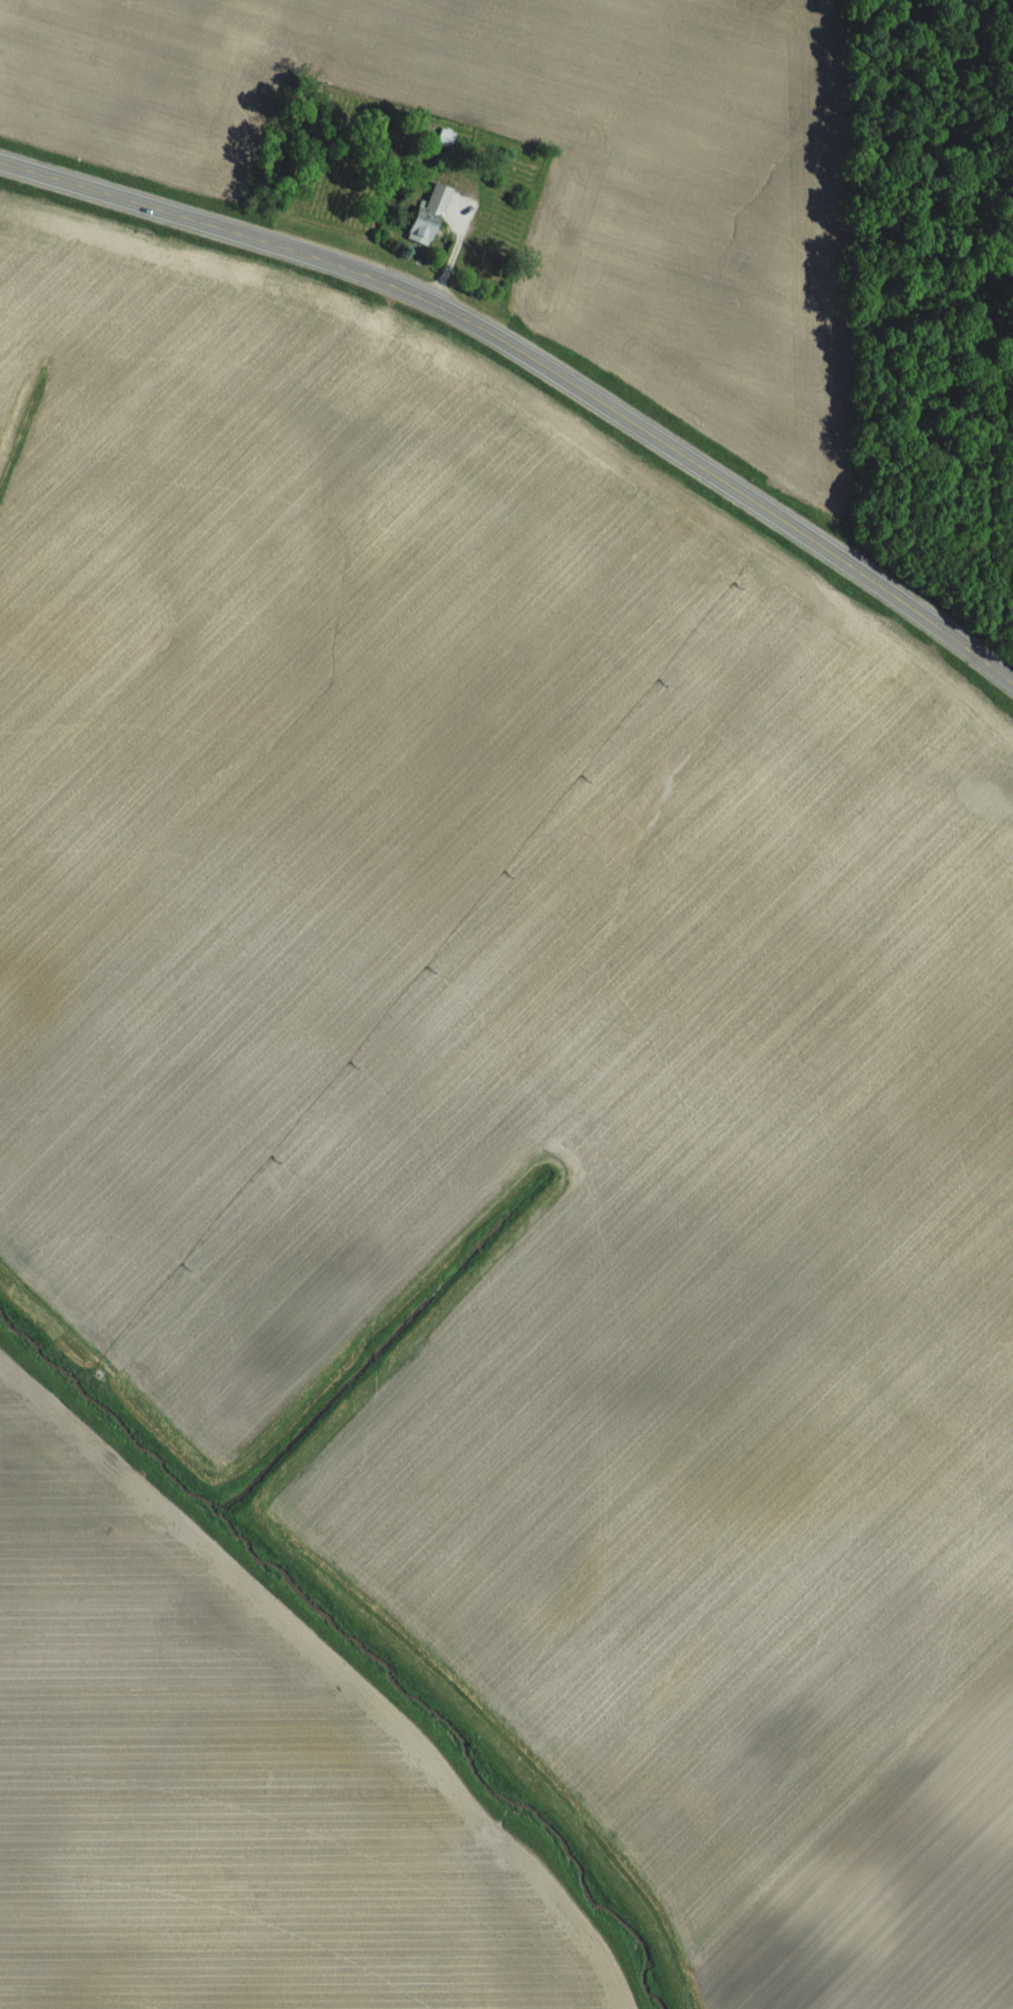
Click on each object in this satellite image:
building: (428, 224)
road: (536, 359)

